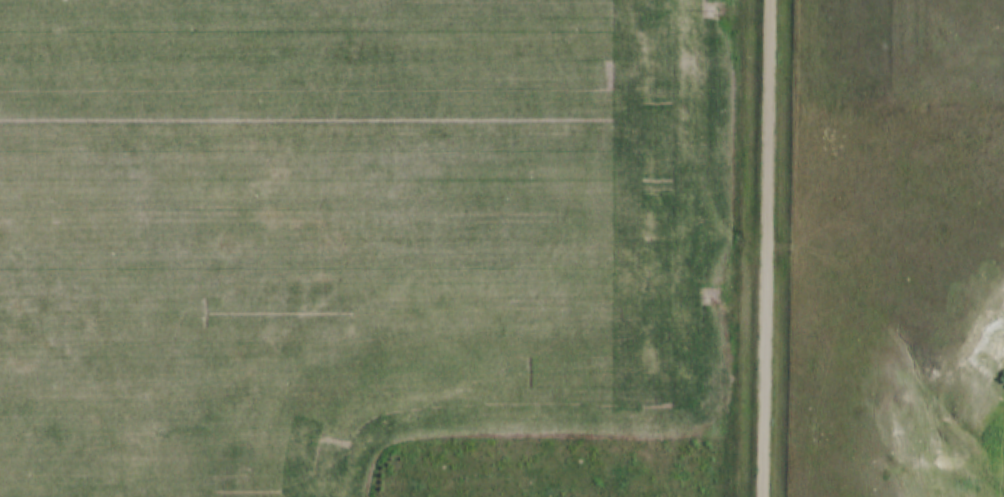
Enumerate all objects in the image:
road: (768, 248)

